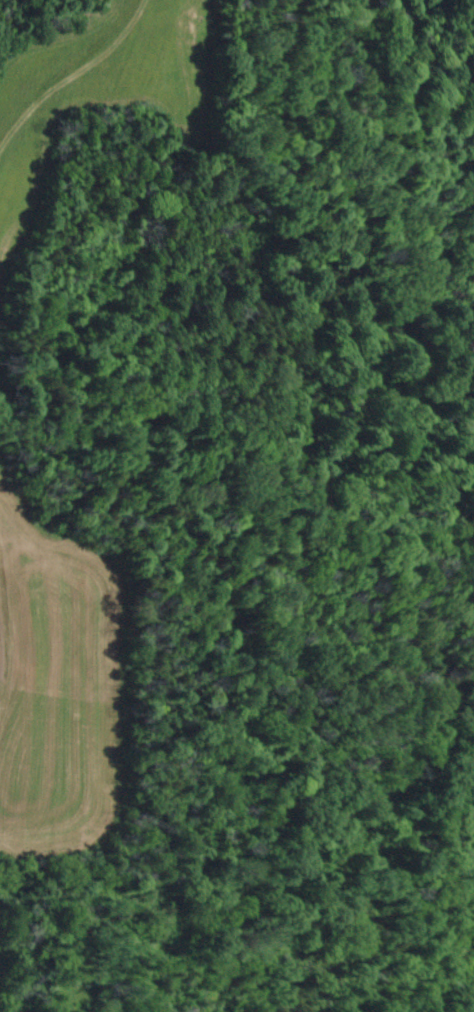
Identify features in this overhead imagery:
road: (422, 963)

